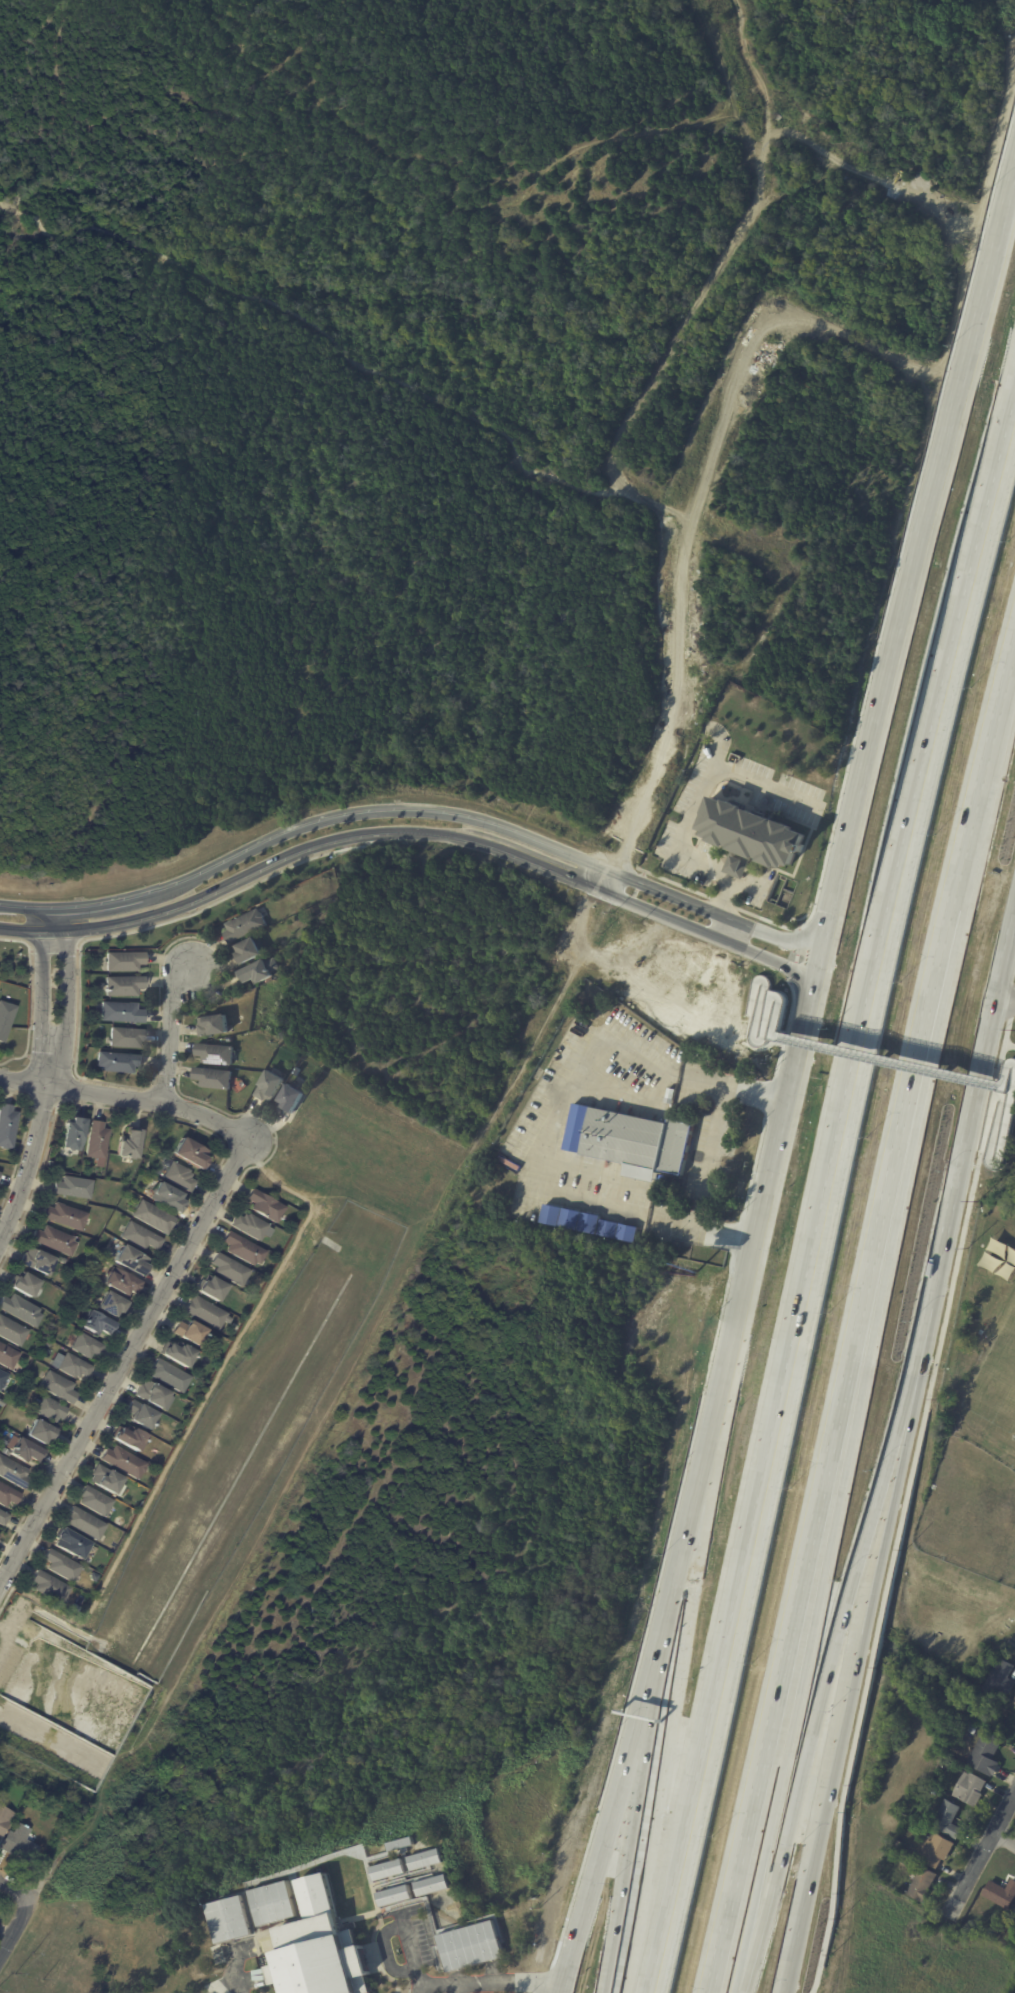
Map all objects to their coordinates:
road: (54, 63)
road: (764, 89)
road: (193, 99)
building: (774, 116)
road: (869, 175)
road: (1010, 202)
road: (485, 207)
road: (712, 270)
road: (314, 328)
road: (937, 493)
road: (777, 598)
road: (697, 689)
road: (983, 781)
road: (767, 786)
road: (414, 809)
road: (685, 826)
building: (757, 832)
road: (363, 834)
road: (844, 859)
road: (740, 863)
road: (615, 884)
road: (724, 898)
building: (242, 925)
road: (728, 929)
building: (245, 950)
road: (770, 959)
building: (121, 960)
road: (818, 966)
building: (259, 970)
building: (121, 985)
road: (40, 993)
road: (1008, 994)
road: (66, 995)
road: (707, 996)
road: (762, 996)
road: (29, 998)
building: (120, 1012)
building: (6, 1017)
building: (768, 1019)
building: (212, 1024)
road: (167, 1033)
building: (125, 1037)
building: (214, 1053)
building: (116, 1061)
road: (890, 1061)
road: (1006, 1073)
building: (211, 1078)
building: (267, 1087)
road: (129, 1099)
building: (289, 1099)
road: (971, 1120)
road: (557, 1124)
building: (8, 1125)
building: (71, 1134)
building: (96, 1140)
road: (993, 1142)
building: (637, 1143)
building: (127, 1144)
building: (505, 1148)
building: (188, 1153)
road: (713, 1158)
building: (50, 1163)
road: (29, 1164)
road: (892, 1175)
building: (177, 1176)
road: (767, 1183)
building: (71, 1187)
building: (502, 1189)
building: (165, 1196)
road: (823, 1196)
building: (264, 1206)
building: (62, 1216)
building: (152, 1216)
building: (248, 1226)
building: (139, 1237)
building: (53, 1240)
building: (241, 1249)
building: (37, 1261)
building: (129, 1261)
building: (228, 1269)
building: (119, 1282)
building: (23, 1284)
building: (210, 1288)
building: (110, 1305)
building: (19, 1310)
building: (204, 1313)
building: (94, 1323)
building: (980, 1329)
building: (10, 1331)
building: (189, 1332)
building: (48, 1343)
building: (84, 1345)
building: (177, 1354)
building: (6, 1357)
road: (126, 1365)
building: (71, 1366)
building: (167, 1376)
building: (1, 1378)
building: (56, 1387)
building: (151, 1394)
building: (193, 1401)
building: (47, 1409)
building: (139, 1414)
building: (38, 1432)
building: (128, 1437)
road: (899, 1440)
building: (3, 1451)
building: (22, 1451)
building: (122, 1462)
building: (12, 1472)
building: (105, 1479)
road: (697, 1483)
road: (903, 1490)
building: (7, 1496)
building: (93, 1501)
building: (2, 1518)
building: (83, 1523)
building: (69, 1543)
building: (59, 1566)
building: (92, 1577)
building: (48, 1587)
road: (1014, 1630)
building: (998, 1679)
road: (676, 1691)
building: (1014, 1701)
building: (1014, 1704)
road: (770, 1718)
road: (794, 1719)
building: (964, 1728)
road: (631, 1736)
road: (834, 1740)
building: (984, 1754)
building: (942, 1765)
road: (803, 1782)
road: (639, 1786)
building: (968, 1790)
building: (932, 1792)
building: (40, 1802)
building: (918, 1804)
building: (5, 1820)
building: (946, 1821)
road: (1006, 1835)
building: (398, 1843)
road: (403, 1843)
building: (21, 1844)
building: (896, 1846)
building: (934, 1852)
road: (982, 1856)
building: (423, 1859)
road: (60, 1865)
building: (385, 1869)
building: (914, 1869)
building: (430, 1884)
building: (920, 1885)
road: (15, 1888)
building: (999, 1893)
building: (392, 1895)
building: (270, 1903)
parking lot: (432, 1910)
building: (226, 1919)
building: (981, 1928)
road: (16, 1933)
road: (574, 1944)
building: (469, 1945)
building: (323, 1947)
road: (234, 1949)
road: (789, 1950)
road: (385, 1951)
road: (489, 1955)
road: (486, 1983)
road: (459, 1989)
parking lot: (404, 1991)

